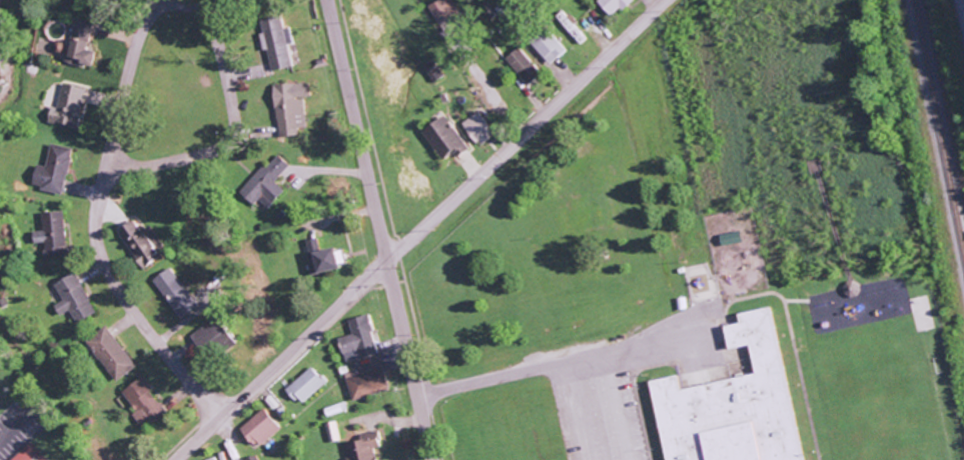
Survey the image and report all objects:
building: (610, 5)
building: (439, 9)
building: (568, 27)
road: (142, 33)
building: (273, 41)
building: (76, 42)
building: (545, 45)
building: (519, 65)
building: (429, 70)
building: (64, 106)
building: (286, 107)
building: (474, 129)
building: (440, 137)
railway: (936, 144)
building: (50, 170)
building: (263, 182)
road: (378, 230)
road: (419, 230)
building: (48, 234)
building: (138, 242)
building: (317, 256)
building: (172, 293)
building: (69, 298)
road: (119, 313)
building: (210, 338)
building: (355, 340)
building: (107, 353)
building: (364, 382)
building: (303, 385)
building: (140, 402)
building: (730, 404)
building: (256, 428)
building: (330, 431)
building: (359, 447)
building: (249, 458)

